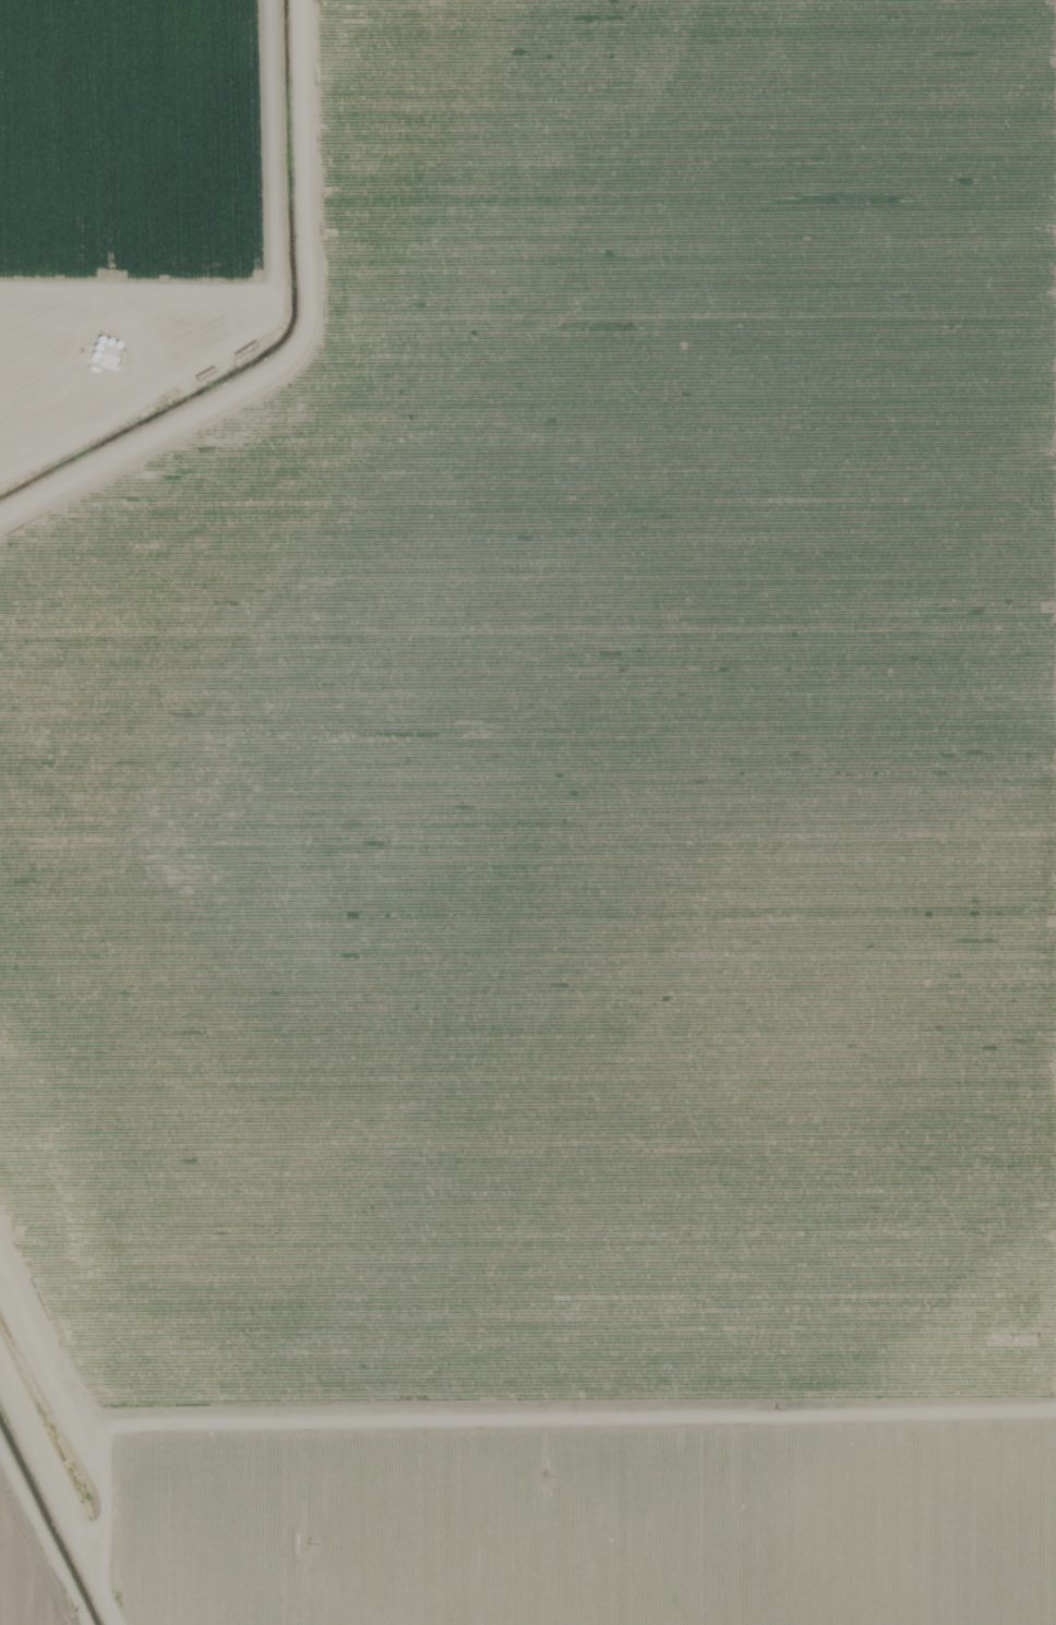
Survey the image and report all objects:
crop: (128, 222)
crop: (575, 859)
road: (87, 1423)
crop: (49, 1504)

